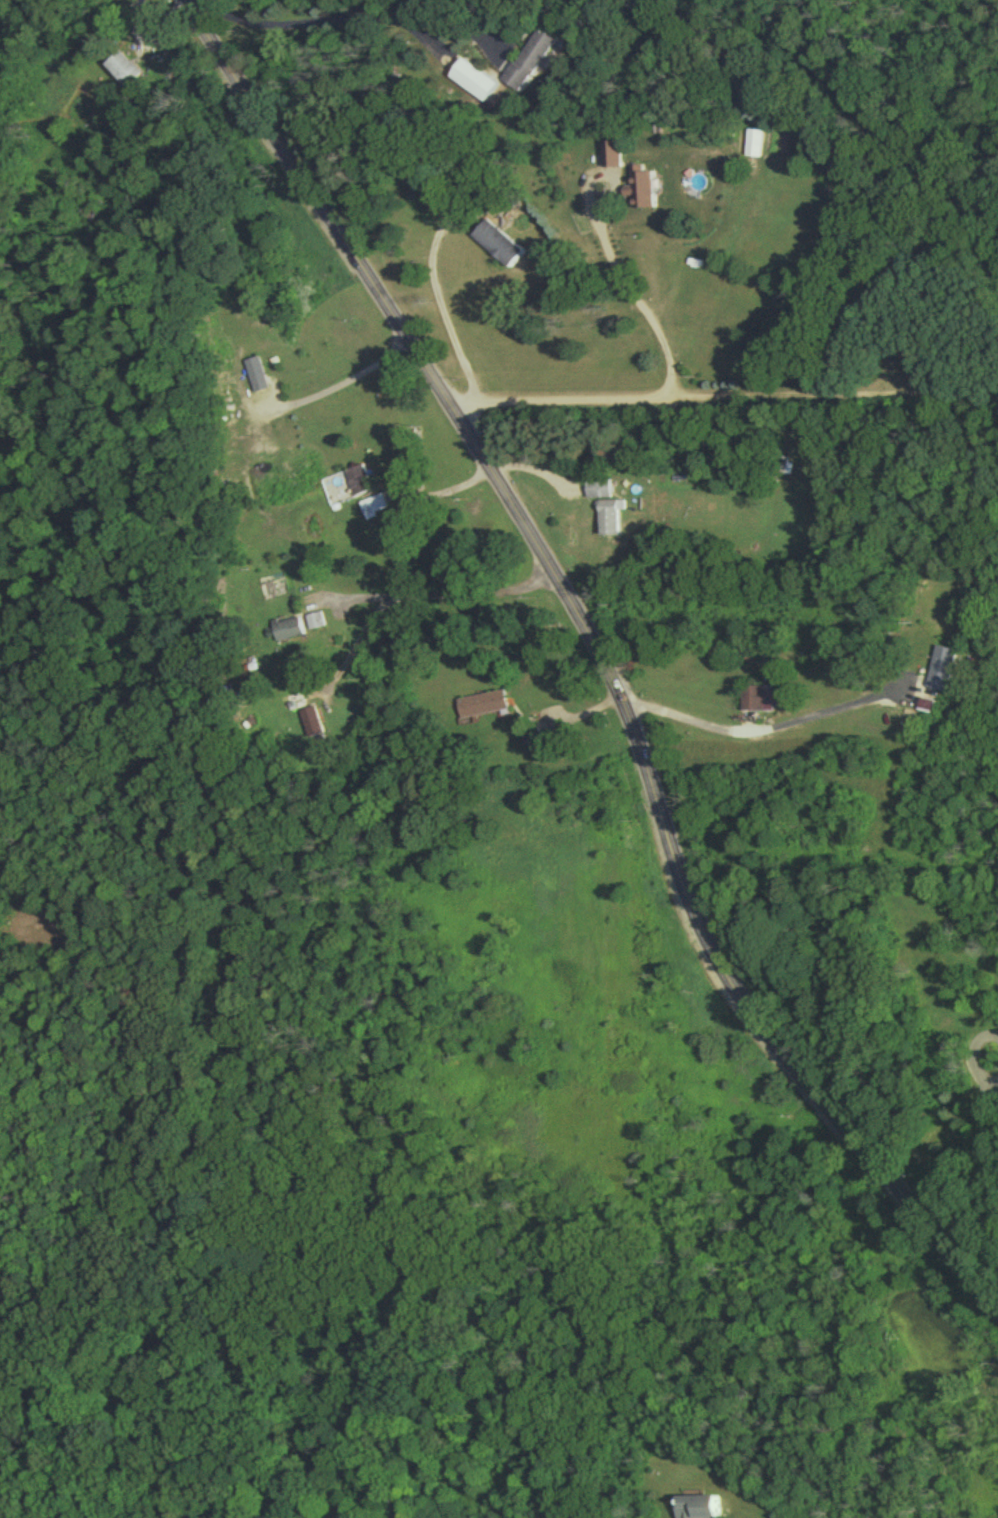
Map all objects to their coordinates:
road: (352, 21)
building: (530, 61)
building: (122, 71)
building: (472, 83)
building: (609, 157)
building: (637, 191)
building: (98, 212)
building: (495, 247)
road: (637, 303)
road: (447, 321)
building: (273, 338)
building: (253, 375)
road: (345, 384)
road: (724, 403)
building: (232, 443)
building: (357, 484)
building: (597, 491)
building: (373, 511)
building: (608, 520)
road: (417, 599)
building: (315, 625)
building: (288, 633)
road: (598, 653)
building: (941, 673)
building: (755, 702)
building: (296, 705)
building: (481, 708)
building: (312, 725)
road: (754, 731)
road: (990, 1176)
building: (695, 1509)

